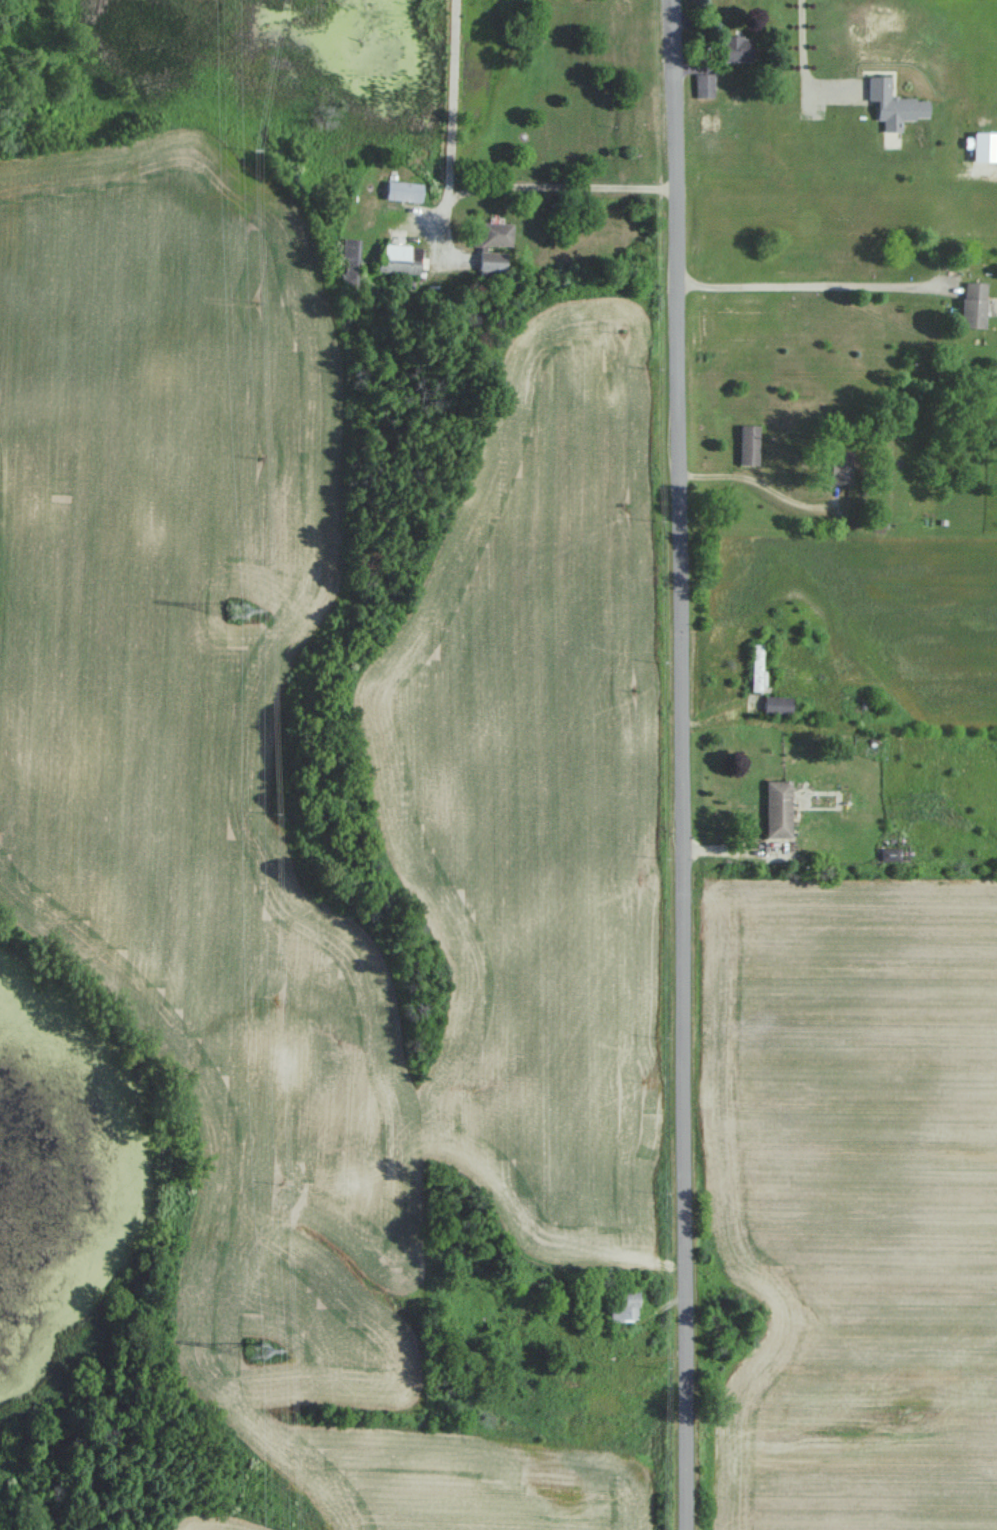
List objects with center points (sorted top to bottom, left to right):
building: (738, 47)
building: (704, 85)
road: (812, 100)
building: (895, 101)
road: (452, 109)
building: (982, 145)
road: (770, 183)
road: (559, 185)
building: (405, 191)
building: (494, 234)
building: (400, 258)
building: (493, 261)
road: (797, 284)
building: (974, 305)
building: (749, 444)
building: (840, 467)
road: (753, 479)
power tower: (237, 613)
building: (759, 665)
building: (777, 706)
road: (676, 765)
building: (777, 808)
building: (624, 1313)
power tower: (259, 1354)

